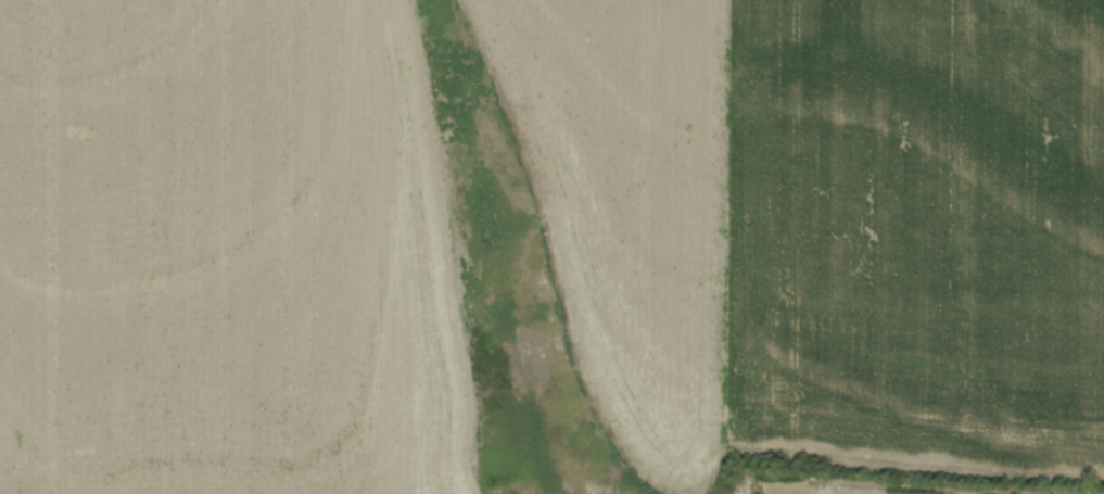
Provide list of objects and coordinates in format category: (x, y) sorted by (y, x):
crop: (916, 230)

